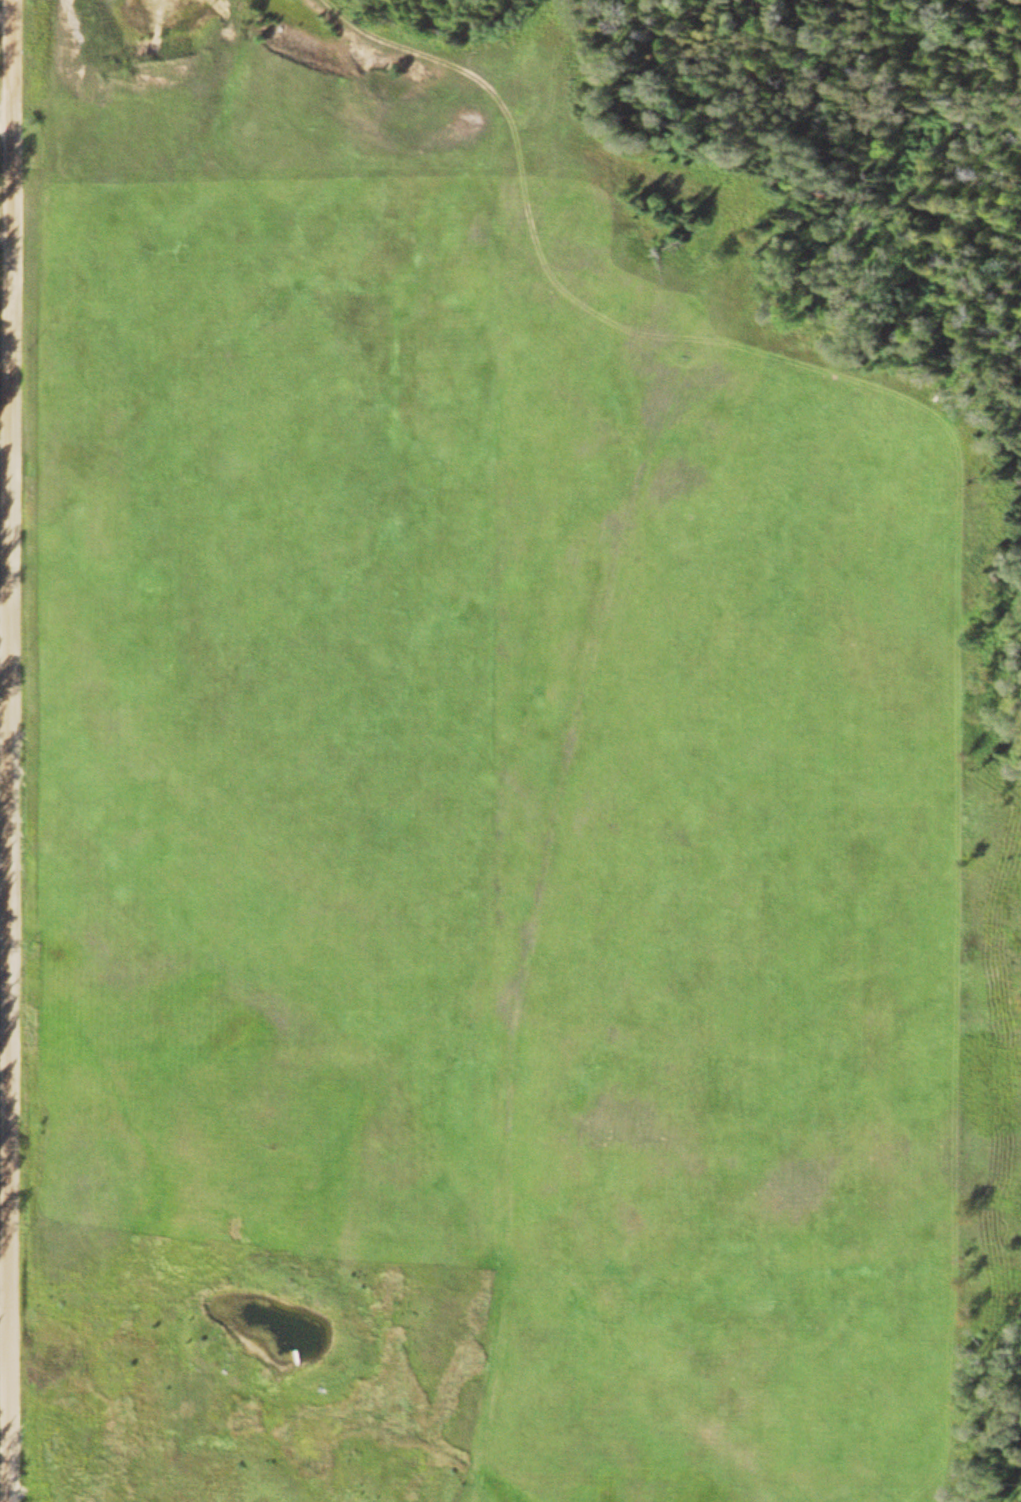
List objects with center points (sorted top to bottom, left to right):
road: (6, 750)

